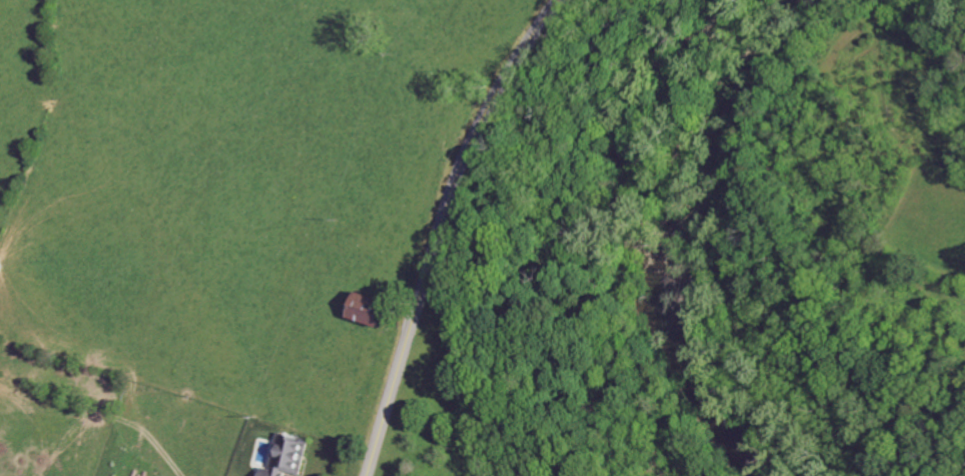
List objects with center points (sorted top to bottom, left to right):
road: (442, 227)
river: (694, 237)
building: (371, 310)
building: (291, 457)

